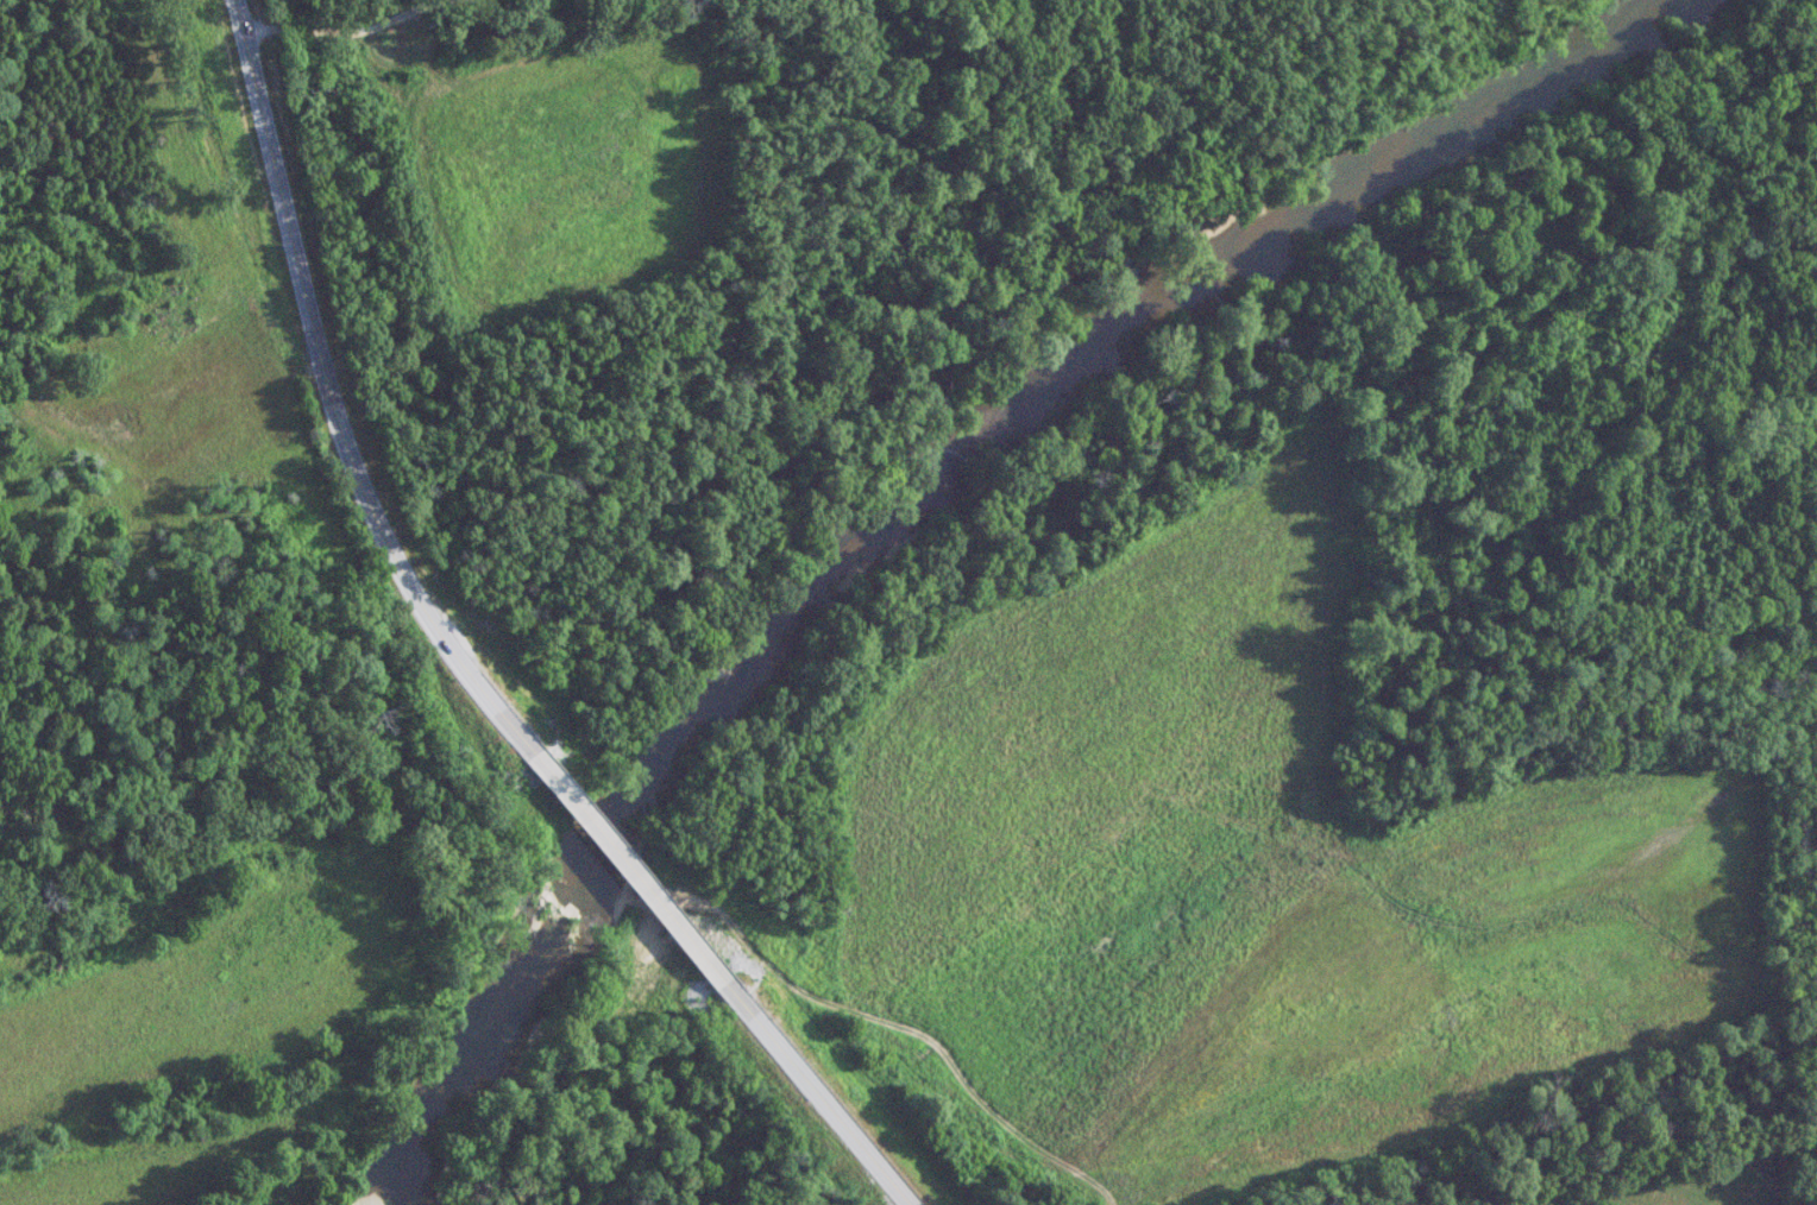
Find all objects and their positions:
road: (239, 18)
road: (333, 418)
river: (937, 497)
road: (627, 870)
road: (818, 1093)

